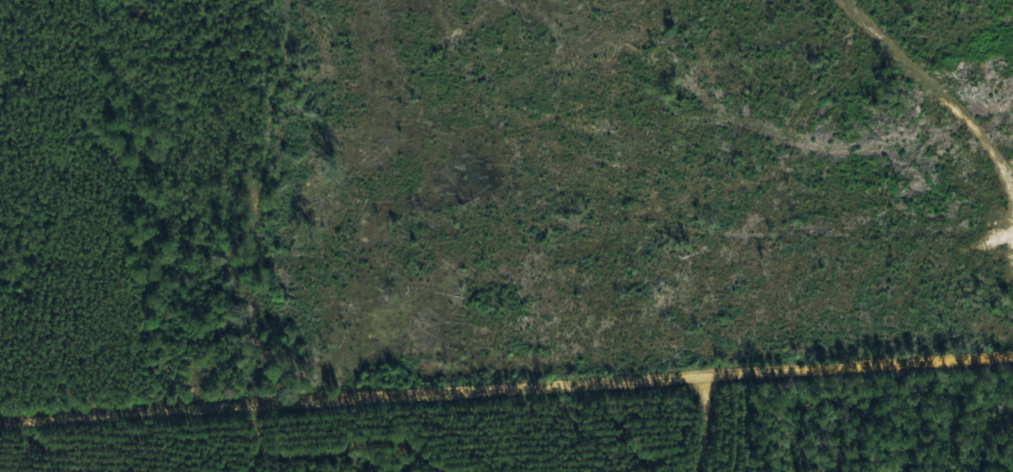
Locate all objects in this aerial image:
road: (506, 392)

